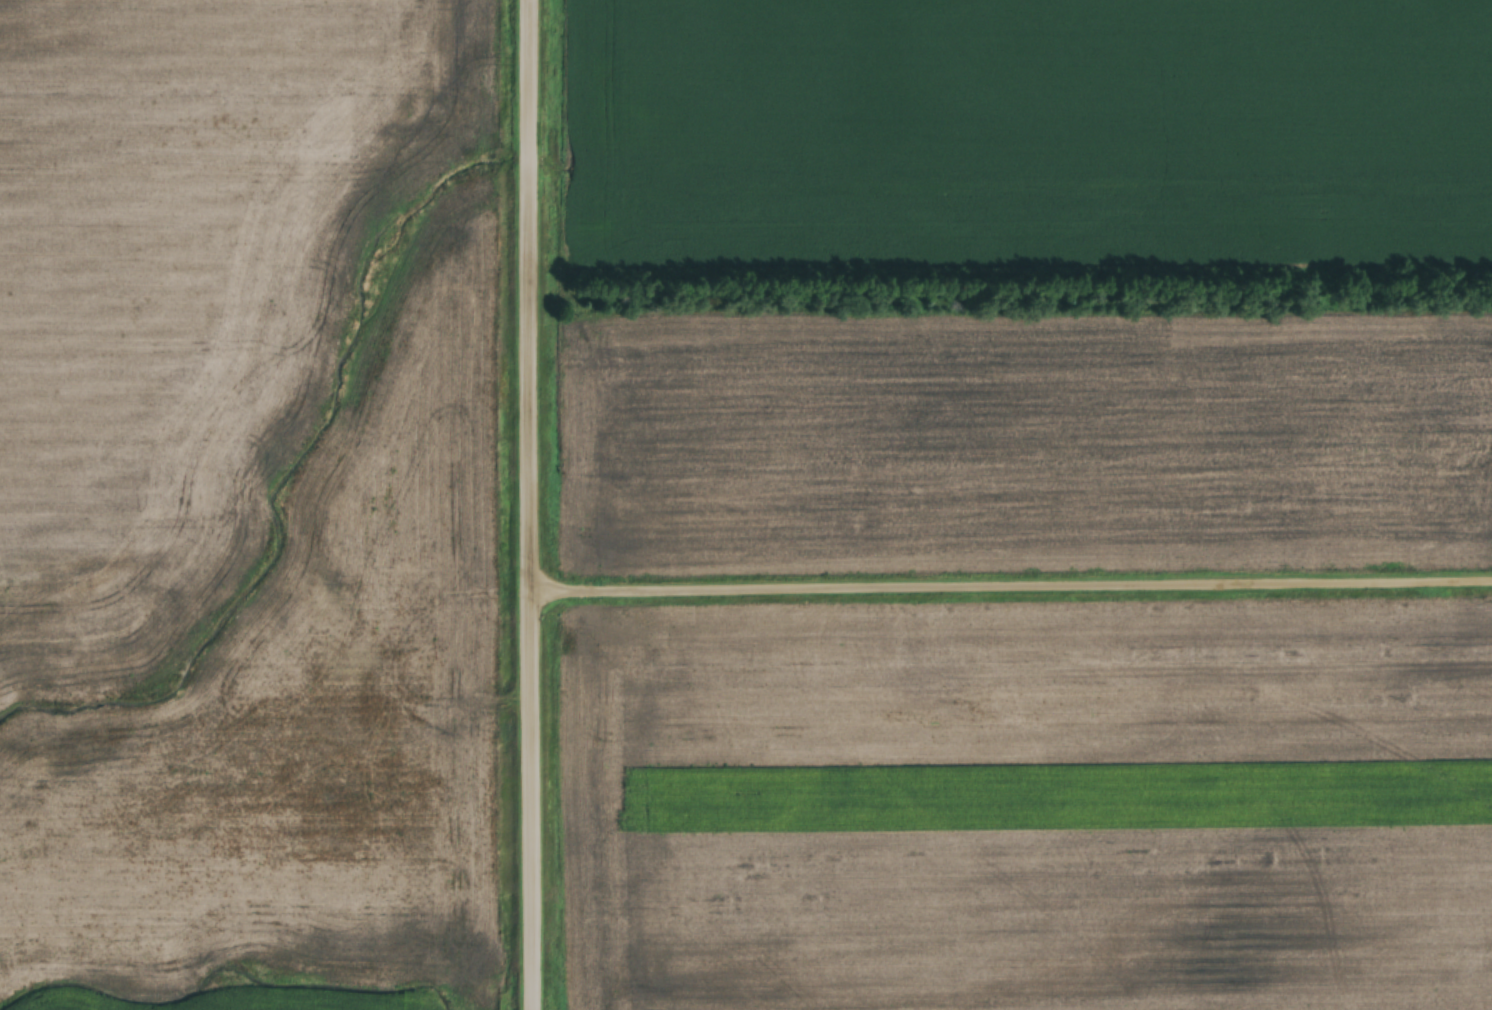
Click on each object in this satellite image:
road: (536, 505)

